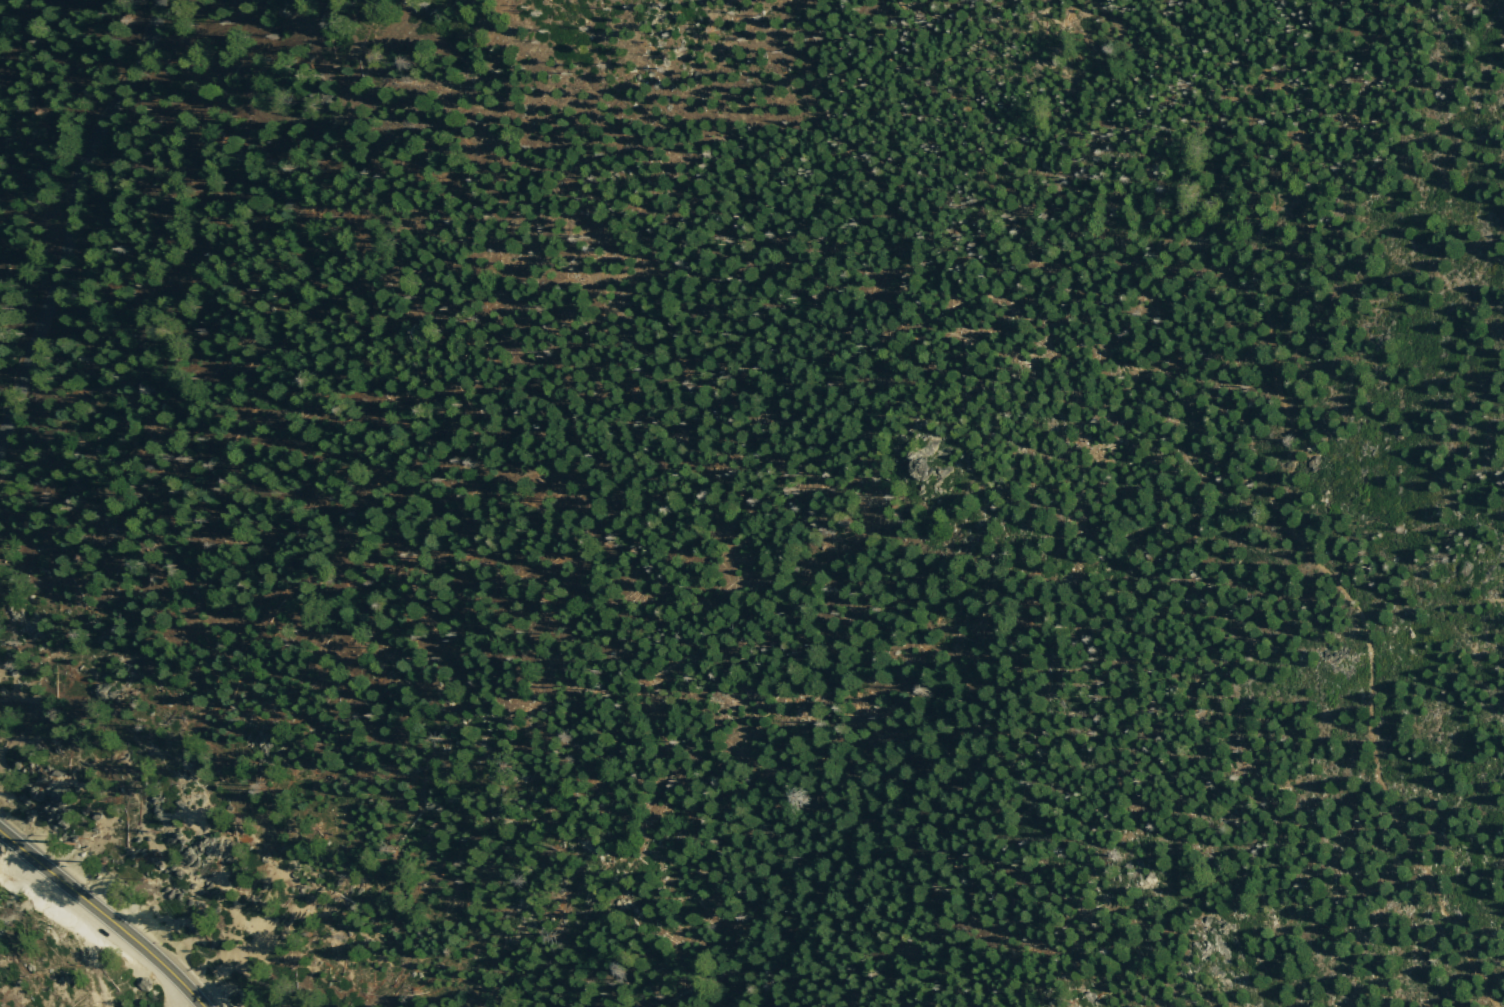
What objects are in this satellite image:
road: (69, 214)
road: (1273, 508)
road: (104, 916)

